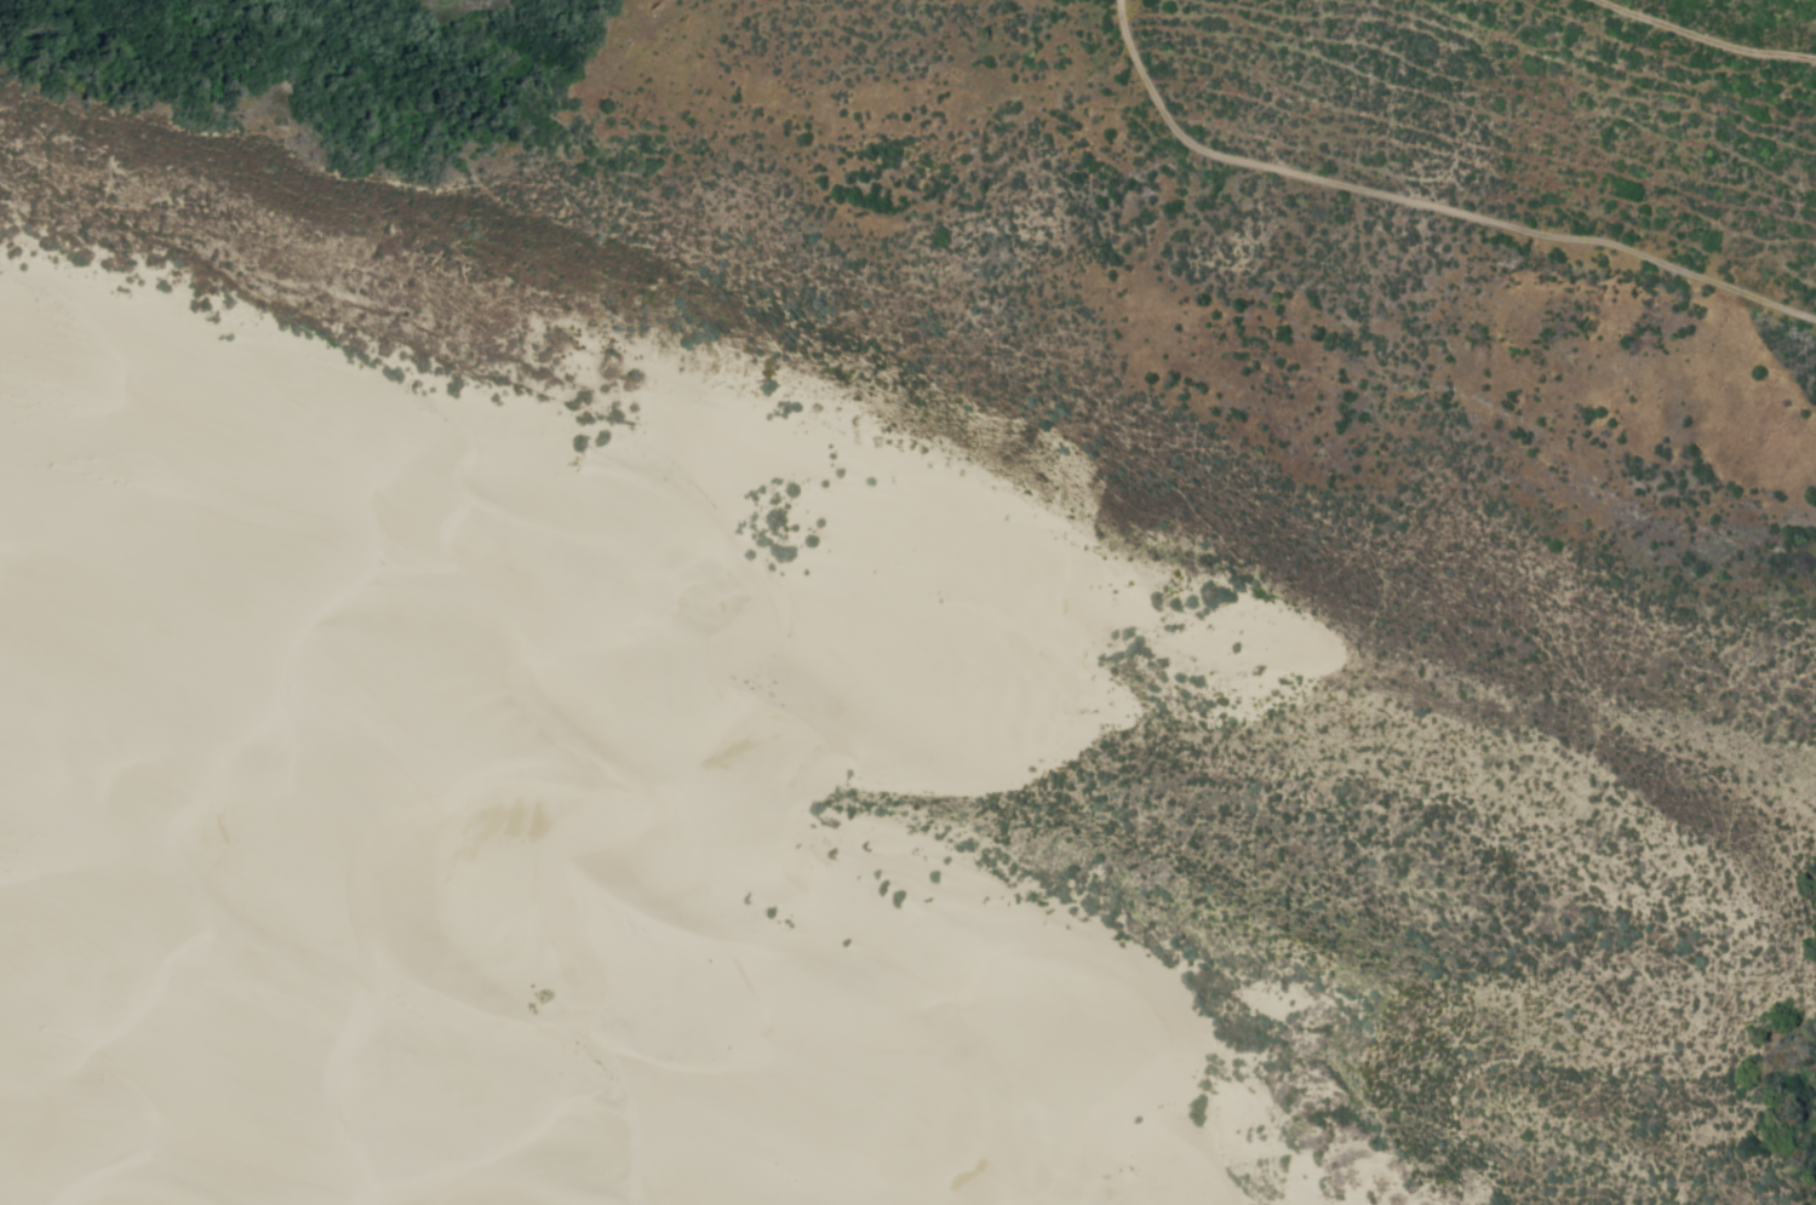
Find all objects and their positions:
road: (669, 19)
road: (1703, 39)
road: (1426, 205)
park: (628, 1115)

